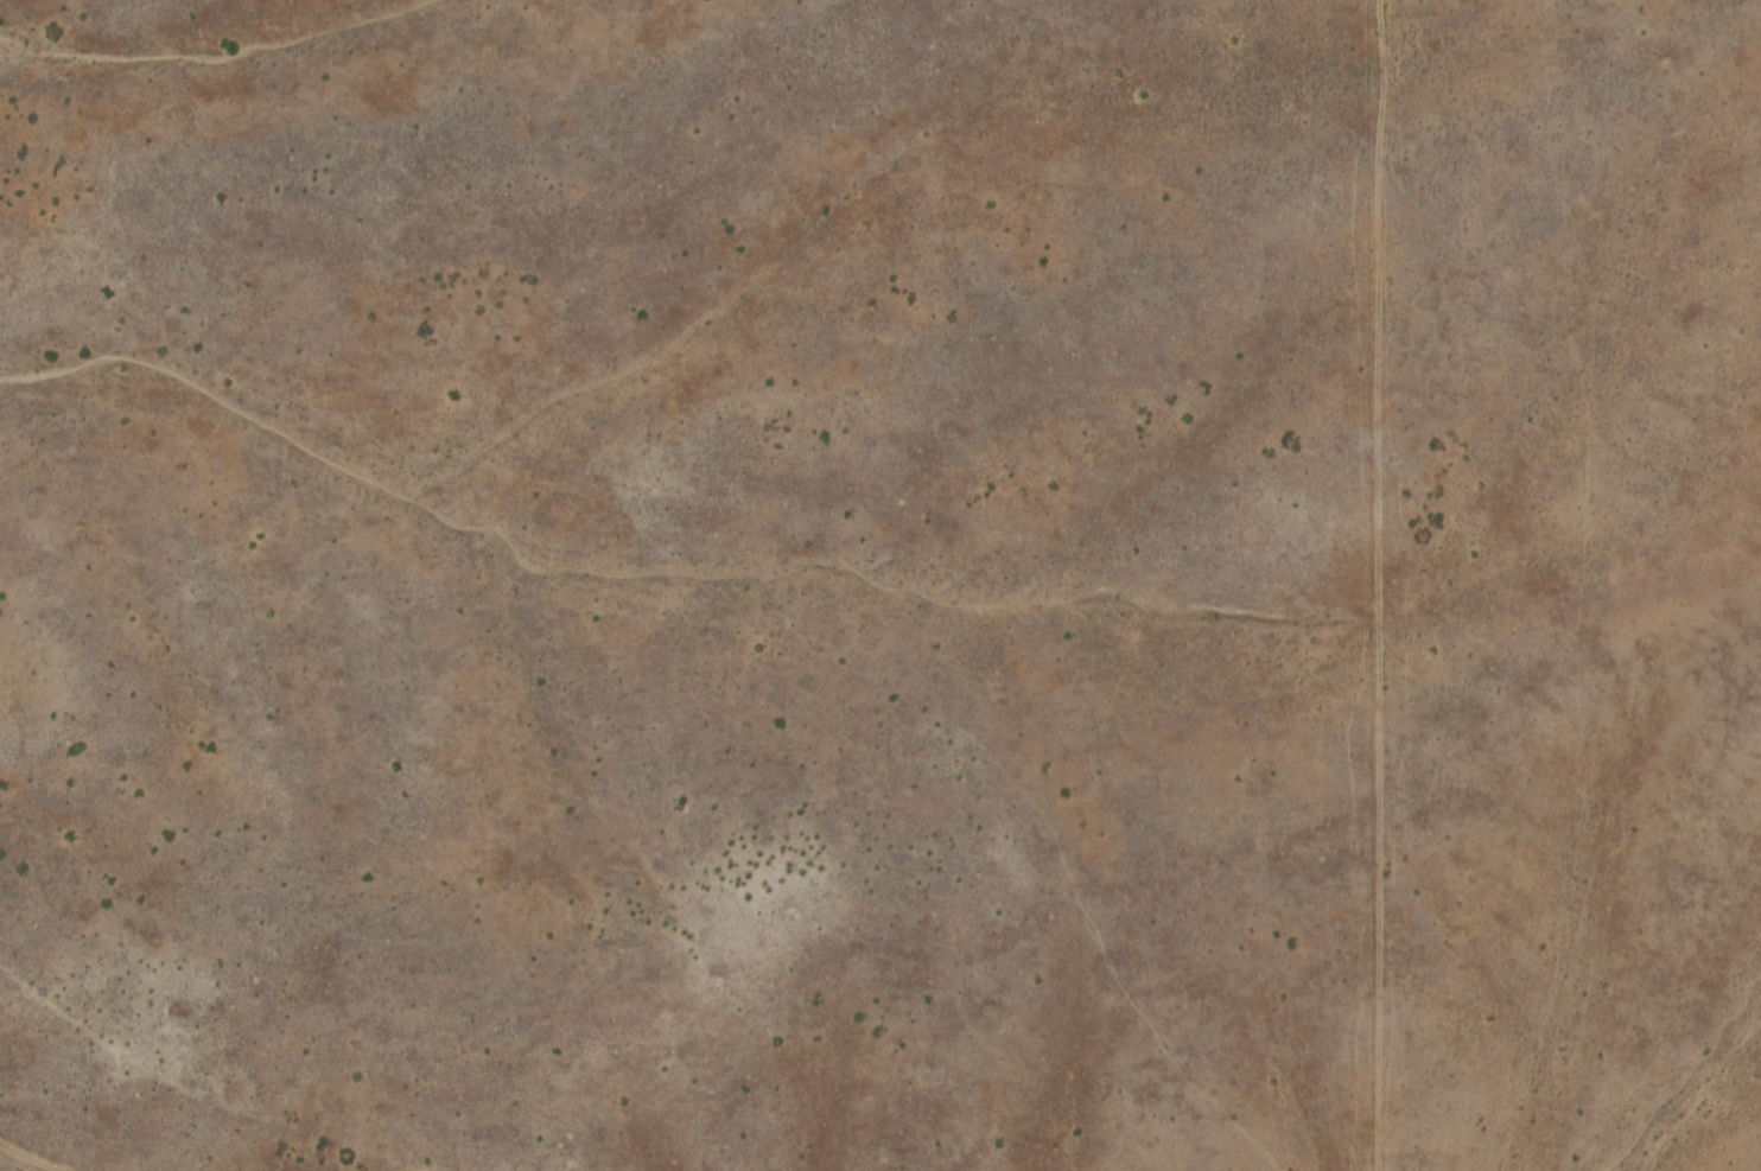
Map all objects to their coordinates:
road: (452, 1124)

